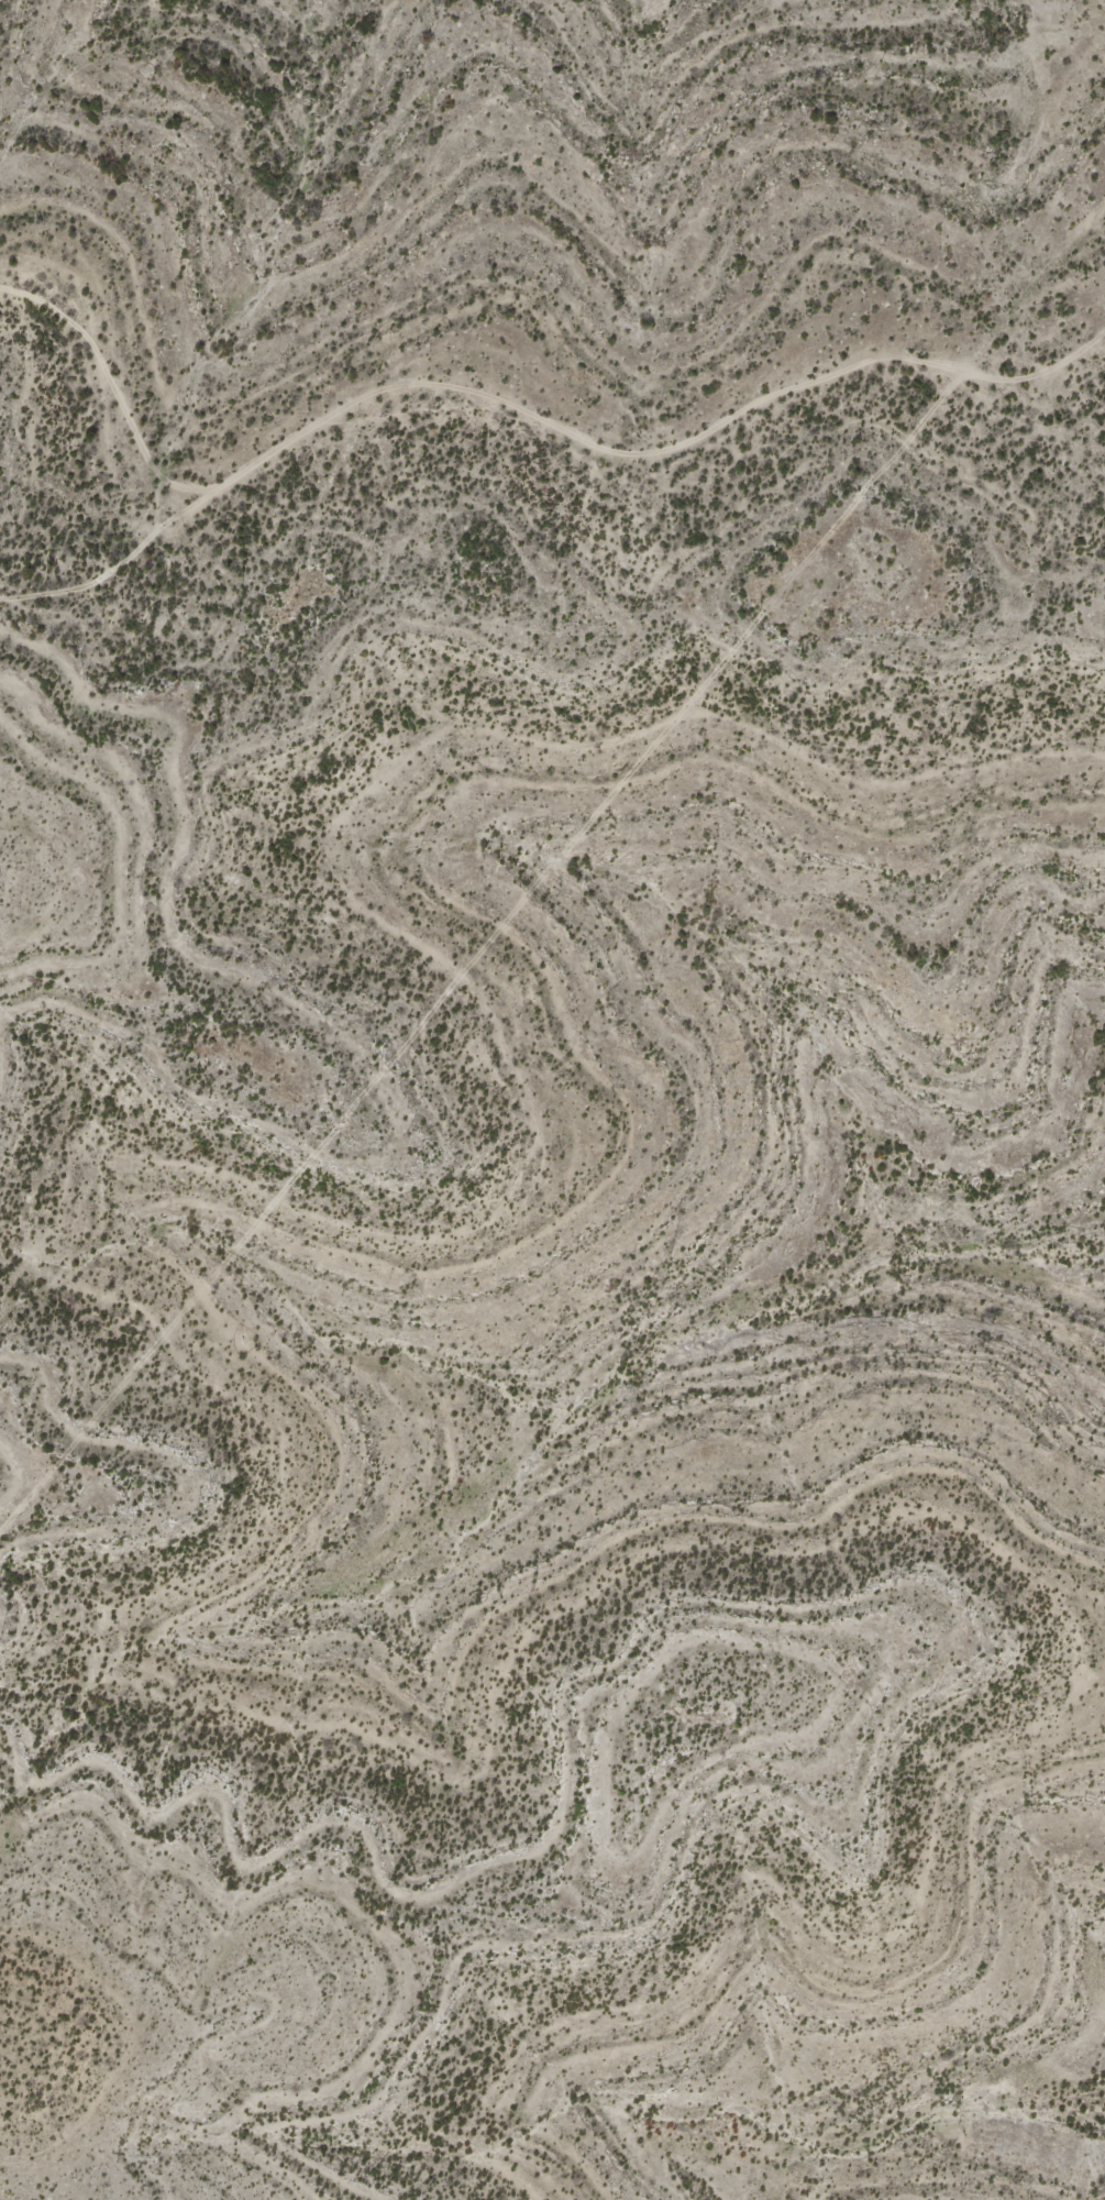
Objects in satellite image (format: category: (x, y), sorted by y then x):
road: (504, 398)

